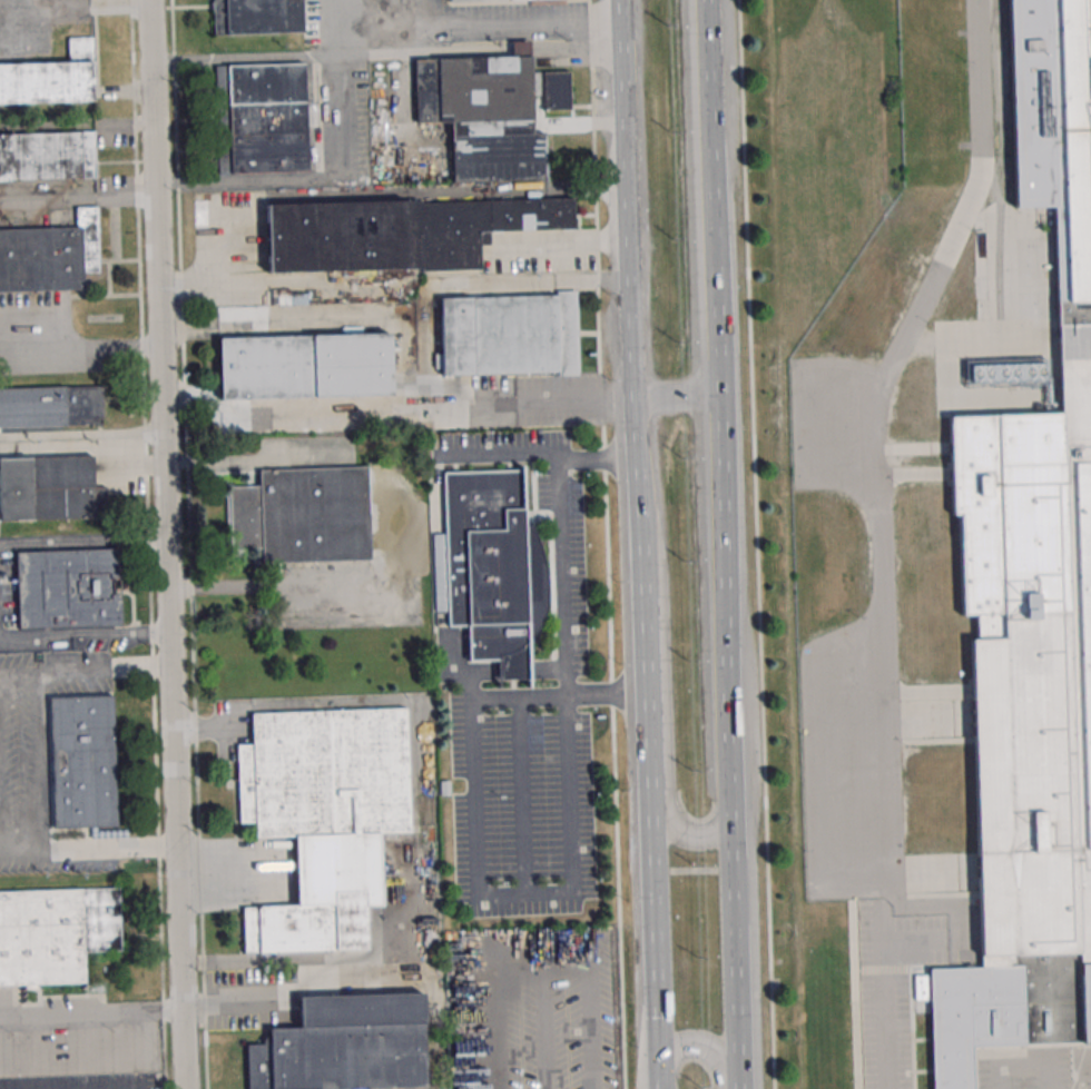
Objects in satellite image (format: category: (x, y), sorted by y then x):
building: (476, 0)
road: (72, 6)
road: (334, 16)
building: (257, 17)
road: (336, 57)
road: (243, 59)
building: (50, 78)
road: (979, 85)
building: (490, 113)
building: (261, 119)
building: (47, 156)
building: (401, 232)
road: (563, 239)
building: (49, 255)
railway: (997, 259)
building: (509, 335)
road: (907, 335)
road: (79, 347)
building: (305, 366)
road: (678, 397)
building: (51, 406)
road: (540, 456)
building: (49, 489)
building: (326, 515)
road: (640, 525)
road: (83, 541)
road: (168, 544)
road: (720, 544)
road: (756, 544)
building: (484, 566)
building: (68, 590)
building: (1031, 607)
road: (125, 633)
road: (39, 638)
road: (661, 736)
road: (882, 737)
road: (38, 762)
building: (82, 763)
building: (324, 819)
road: (421, 833)
road: (549, 893)
building: (55, 934)
road: (294, 963)
road: (173, 1012)
road: (543, 1013)
road: (82, 1014)
road: (436, 1027)
road: (594, 1031)
road: (498, 1036)
building: (345, 1046)
road: (136, 1051)
traffic signals: (655, 1052)
road: (701, 1052)
road: (655, 1070)

